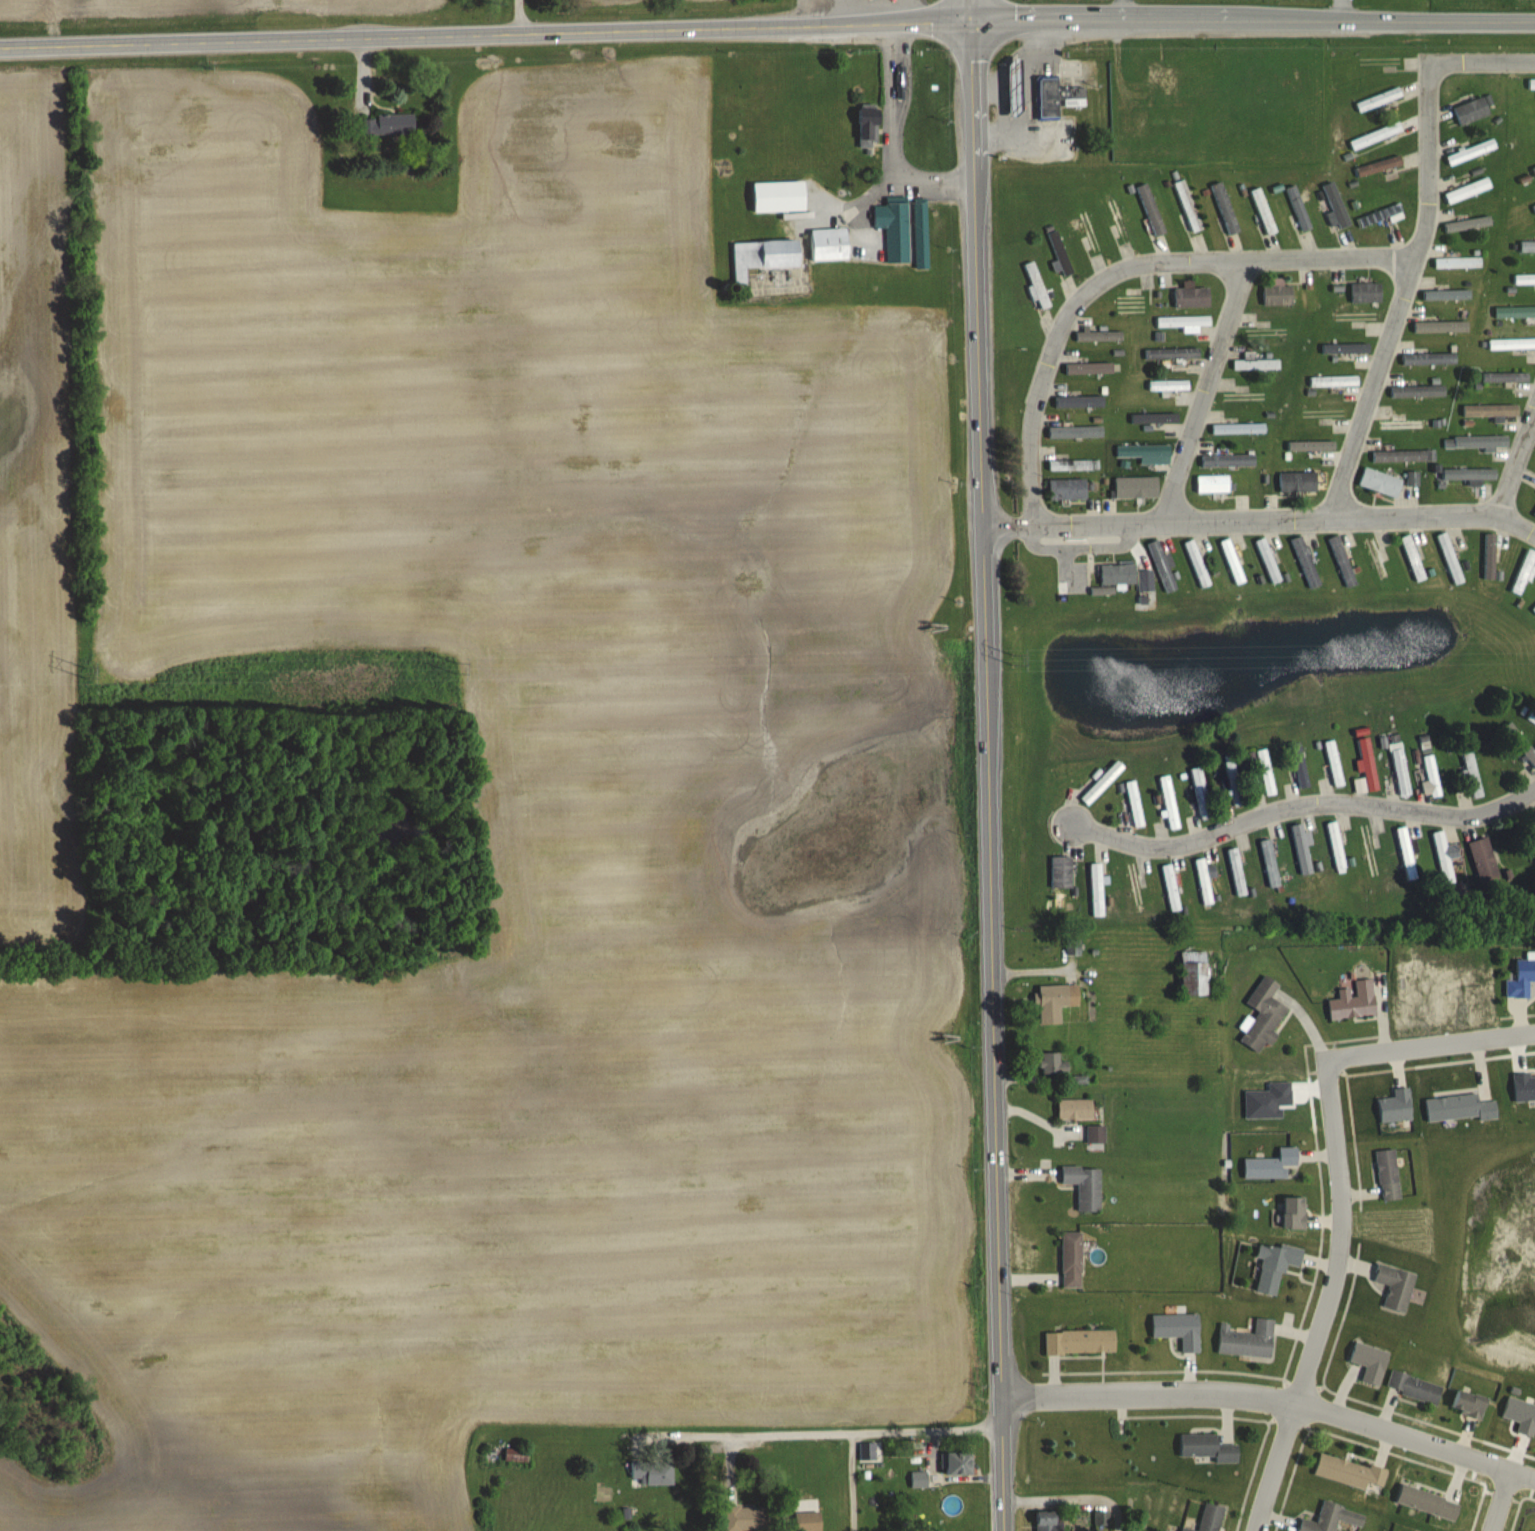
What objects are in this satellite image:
road: (1124, 11)
road: (1339, 11)
road: (975, 12)
road: (515, 16)
road: (1255, 23)
traffic signals: (976, 24)
road: (487, 32)
road: (1484, 65)
building: (1162, 77)
building: (1276, 81)
building: (1534, 83)
building: (1057, 97)
building: (1379, 98)
building: (1471, 110)
building: (388, 124)
building: (868, 126)
building: (1375, 135)
road: (892, 142)
building: (1471, 151)
building: (1378, 165)
building: (1533, 168)
building: (1467, 189)
building: (779, 195)
building: (1187, 205)
building: (1534, 205)
building: (1335, 206)
building: (1224, 207)
building: (1150, 209)
building: (1263, 210)
building: (1379, 215)
building: (1117, 218)
building: (1468, 223)
building: (894, 228)
building: (1089, 230)
building: (921, 234)
building: (830, 243)
building: (1527, 245)
building: (1058, 252)
building: (763, 255)
road: (1123, 270)
building: (1037, 284)
building: (1365, 291)
building: (1277, 294)
building: (1191, 295)
road: (1401, 296)
building: (1132, 303)
building: (1514, 310)
building: (1182, 321)
building: (1097, 335)
building: (1511, 343)
building: (1344, 348)
building: (1429, 357)
building: (1255, 363)
building: (1089, 367)
building: (1504, 375)
building: (1333, 380)
building: (1168, 384)
building: (1417, 390)
road: (1207, 394)
building: (1244, 396)
building: (1490, 409)
building: (1157, 418)
building: (1405, 423)
building: (1237, 428)
building: (1075, 432)
building: (1475, 441)
building: (1309, 445)
building: (1145, 452)
building: (1403, 455)
building: (1227, 459)
building: (1073, 464)
road: (1517, 470)
building: (1467, 474)
building: (1412, 477)
building: (1297, 481)
building: (1379, 481)
building: (1214, 484)
building: (1136, 487)
building: (1067, 489)
building: (1533, 512)
road: (1259, 522)
building: (1488, 556)
building: (1412, 557)
building: (1448, 558)
building: (1231, 561)
building: (1341, 561)
building: (1377, 561)
building: (1196, 563)
building: (1306, 564)
building: (1162, 565)
building: (1118, 573)
building: (1534, 607)
building: (1509, 731)
building: (1529, 755)
building: (1333, 763)
building: (1298, 766)
building: (1365, 767)
building: (1427, 768)
building: (1265, 772)
building: (1400, 772)
building: (1471, 774)
road: (989, 777)
building: (1101, 782)
building: (1233, 782)
building: (1200, 792)
building: (1134, 803)
road: (1302, 807)
building: (1193, 822)
building: (1534, 832)
building: (1336, 847)
building: (1300, 849)
building: (1371, 849)
building: (1406, 853)
building: (1445, 856)
building: (1484, 859)
building: (1269, 863)
building: (1061, 872)
building: (1236, 872)
building: (1203, 881)
building: (1136, 887)
building: (1170, 887)
building: (1096, 890)
building: (1073, 947)
building: (1195, 973)
building: (1521, 978)
building: (1056, 1001)
building: (1353, 1001)
building: (1263, 1015)
building: (1052, 1065)
building: (1395, 1106)
building: (1458, 1108)
building: (1075, 1109)
building: (1095, 1134)
building: (1270, 1165)
building: (1387, 1175)
building: (1084, 1186)
road: (1341, 1196)
building: (1293, 1212)
building: (1071, 1260)
building: (1275, 1265)
building: (1395, 1286)
building: (1178, 1329)
building: (1247, 1340)
building: (1079, 1342)
building: (1369, 1361)
building: (1413, 1386)
road: (1273, 1401)
building: (1468, 1403)
road: (930, 1429)
road: (793, 1436)
building: (1206, 1447)
building: (516, 1454)
building: (957, 1463)
building: (1349, 1471)
building: (652, 1473)
building: (919, 1479)
road: (851, 1482)
road: (1071, 1496)
building: (1427, 1502)
road: (1503, 1502)
building: (1097, 1517)
building: (747, 1518)
building: (1209, 1518)
building: (1331, 1518)
building: (808, 1521)
building: (1046, 1521)

